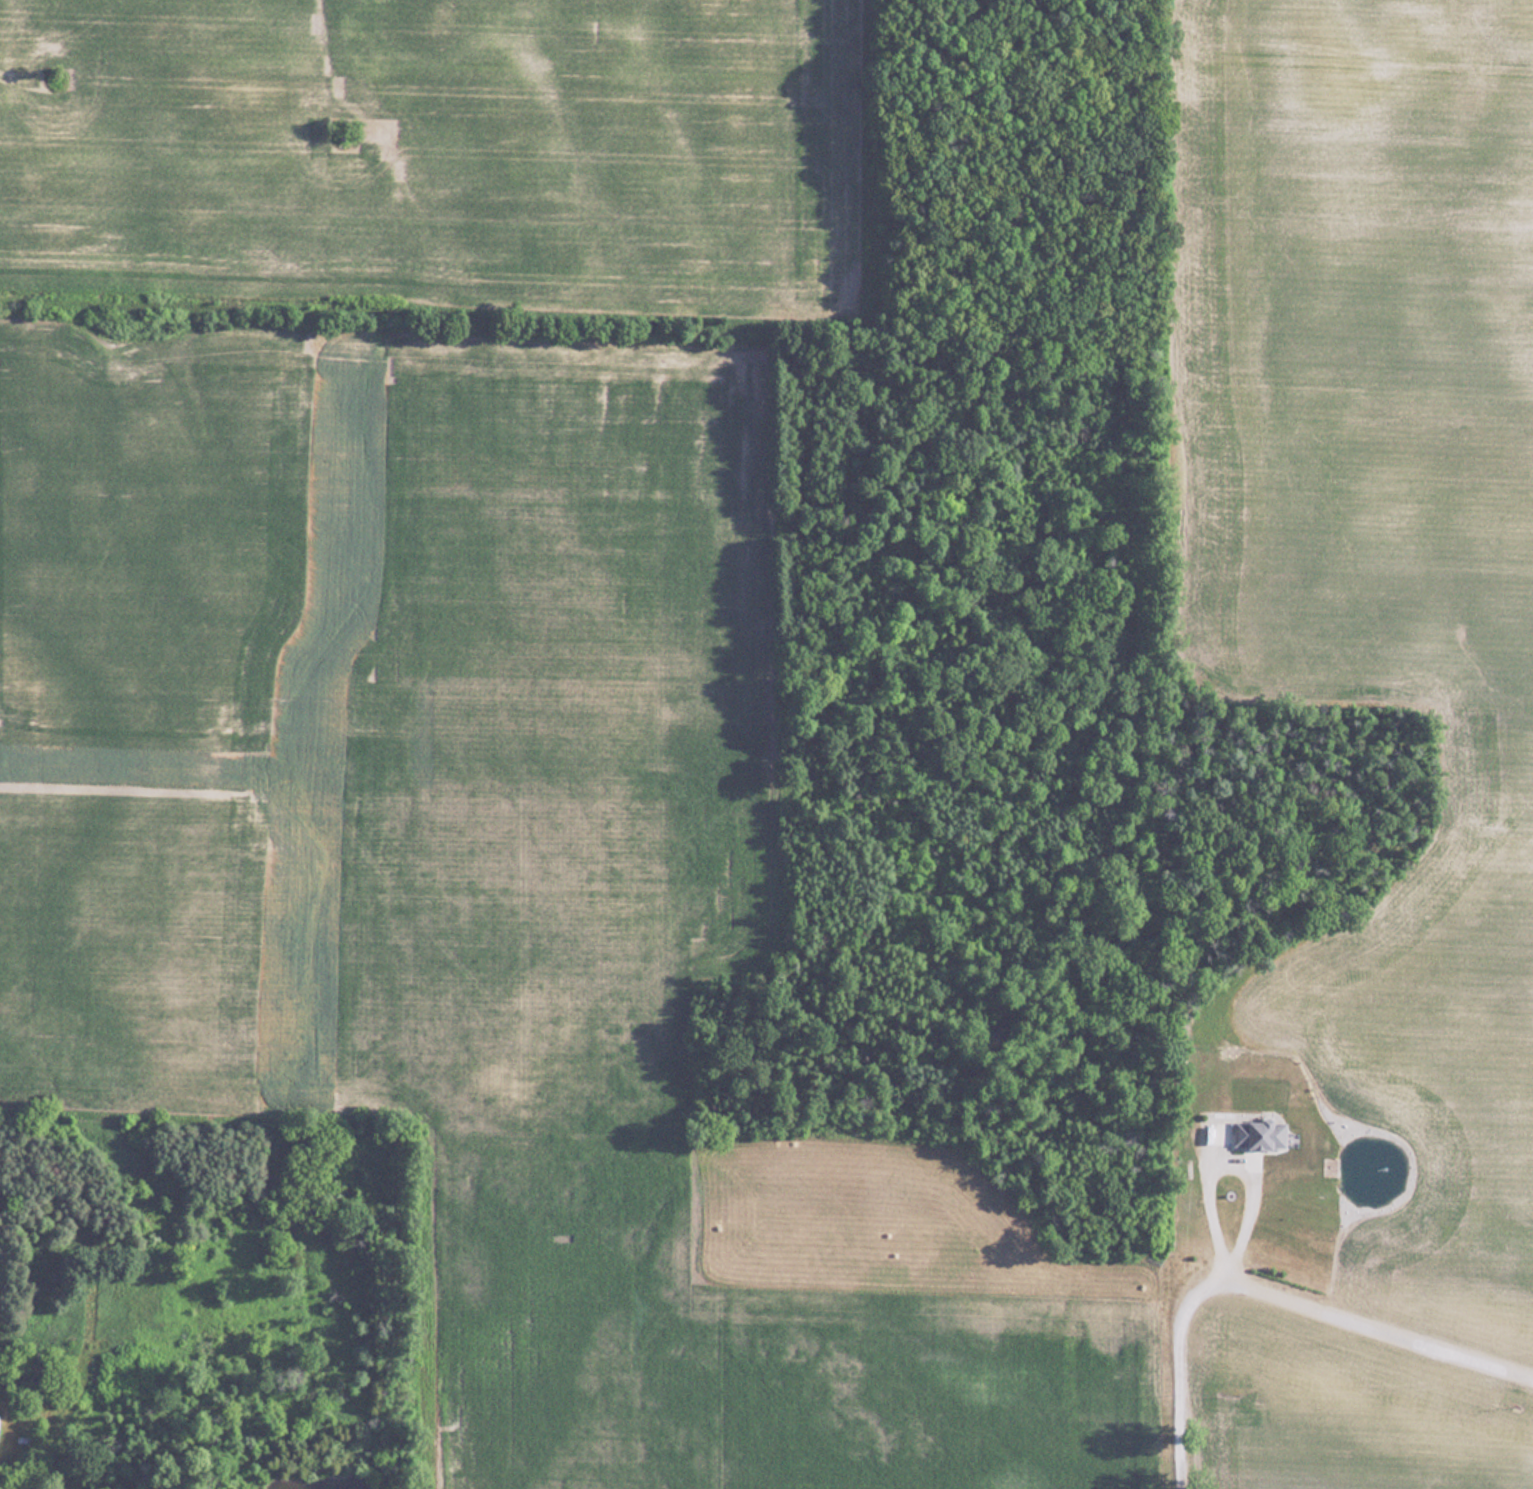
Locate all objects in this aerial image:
building: (1261, 1134)
road: (1243, 1160)
road: (1236, 1271)
road: (1270, 1290)
building: (0, 1416)

